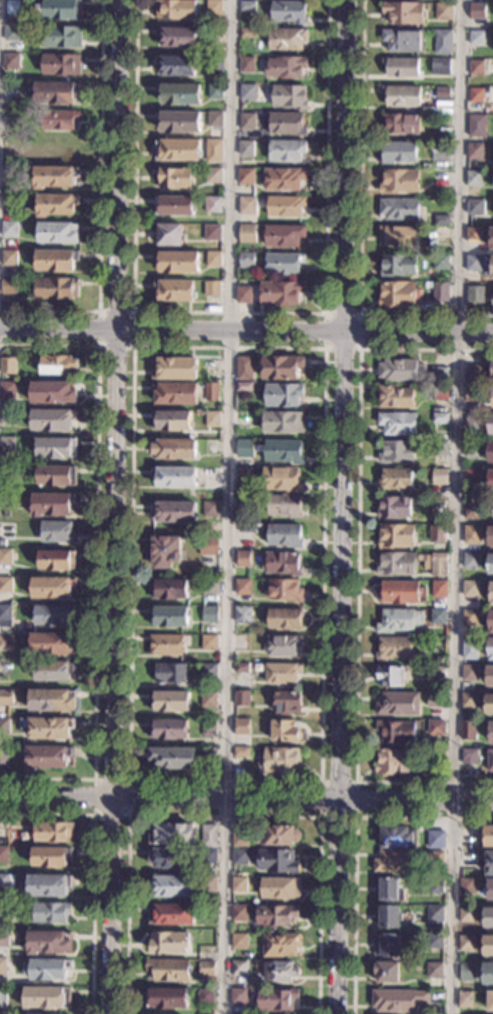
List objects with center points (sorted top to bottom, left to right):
building: (247, 6)
building: (214, 7)
building: (11, 8)
building: (60, 9)
building: (175, 9)
building: (443, 11)
building: (477, 11)
building: (289, 12)
building: (404, 12)
building: (9, 21)
building: (11, 33)
building: (248, 33)
building: (61, 37)
building: (179, 37)
building: (476, 37)
building: (287, 39)
building: (403, 41)
building: (443, 42)
building: (10, 61)
building: (214, 64)
building: (247, 64)
building: (60, 65)
building: (177, 66)
building: (285, 67)
building: (401, 67)
building: (441, 67)
building: (476, 67)
building: (215, 91)
building: (56, 92)
building: (247, 92)
building: (442, 92)
building: (178, 93)
building: (476, 95)
building: (402, 96)
building: (289, 97)
building: (488, 111)
building: (59, 119)
building: (215, 119)
building: (178, 121)
building: (247, 121)
building: (286, 124)
building: (400, 124)
building: (443, 124)
building: (476, 126)
building: (246, 148)
building: (176, 150)
building: (286, 150)
building: (214, 151)
building: (475, 151)
building: (399, 152)
building: (440, 157)
building: (426, 167)
building: (9, 173)
building: (213, 176)
building: (246, 176)
building: (54, 177)
building: (174, 177)
building: (474, 178)
building: (284, 179)
building: (400, 181)
road: (99, 204)
building: (54, 205)
building: (212, 205)
building: (173, 206)
building: (247, 206)
building: (285, 206)
building: (475, 207)
building: (399, 209)
building: (442, 220)
road: (360, 224)
building: (7, 229)
building: (57, 232)
building: (212, 233)
building: (247, 233)
building: (169, 234)
building: (441, 234)
building: (473, 234)
building: (399, 235)
building: (283, 236)
building: (491, 239)
building: (8, 258)
building: (213, 259)
building: (56, 260)
building: (246, 260)
building: (176, 262)
building: (441, 262)
building: (283, 263)
building: (473, 263)
building: (398, 265)
building: (491, 267)
building: (8, 286)
building: (56, 288)
building: (211, 289)
building: (173, 291)
building: (440, 292)
building: (280, 293)
building: (475, 294)
building: (243, 295)
building: (399, 295)
building: (492, 300)
road: (98, 312)
road: (229, 313)
road: (325, 314)
road: (246, 331)
road: (134, 347)
building: (56, 365)
building: (7, 366)
building: (281, 367)
building: (244, 368)
building: (174, 369)
building: (211, 369)
building: (401, 371)
building: (492, 372)
building: (473, 374)
building: (439, 375)
building: (244, 387)
building: (6, 389)
building: (211, 392)
building: (52, 393)
building: (439, 393)
building: (176, 394)
building: (472, 394)
building: (283, 395)
building: (395, 397)
building: (492, 397)
road: (340, 401)
building: (7, 416)
building: (243, 418)
building: (439, 418)
building: (212, 419)
building: (51, 420)
building: (171, 421)
building: (282, 422)
building: (397, 423)
building: (472, 423)
building: (490, 424)
building: (7, 445)
building: (211, 447)
building: (55, 448)
building: (244, 448)
building: (439, 448)
building: (174, 449)
building: (472, 450)
building: (283, 451)
building: (395, 451)
building: (490, 452)
building: (427, 472)
building: (6, 474)
building: (243, 474)
building: (56, 475)
building: (173, 477)
building: (439, 477)
building: (471, 477)
building: (210, 479)
building: (395, 479)
building: (282, 480)
building: (490, 480)
building: (6, 500)
building: (244, 503)
building: (52, 505)
road: (113, 506)
road: (226, 506)
building: (283, 506)
road: (455, 506)
building: (393, 508)
building: (210, 509)
building: (471, 509)
building: (173, 511)
building: (5, 513)
building: (9, 527)
building: (246, 528)
building: (57, 532)
building: (437, 533)
building: (284, 535)
building: (471, 535)
building: (395, 536)
building: (490, 537)
building: (207, 546)
building: (165, 551)
building: (5, 557)
building: (243, 559)
road: (95, 560)
building: (56, 561)
building: (470, 561)
building: (282, 564)
building: (396, 564)
building: (438, 564)
building: (490, 564)
road: (356, 569)
building: (5, 585)
building: (211, 586)
building: (242, 587)
building: (52, 589)
building: (168, 589)
building: (438, 589)
building: (470, 589)
building: (283, 590)
building: (401, 592)
building: (490, 594)
building: (209, 614)
building: (242, 615)
building: (4, 616)
building: (54, 616)
building: (169, 616)
building: (437, 617)
building: (469, 617)
building: (283, 619)
building: (399, 620)
building: (490, 622)
building: (208, 642)
building: (5, 643)
building: (50, 644)
building: (165, 645)
building: (282, 645)
building: (394, 648)
building: (469, 648)
building: (490, 649)
building: (241, 667)
building: (5, 669)
building: (53, 671)
building: (208, 671)
building: (437, 671)
building: (469, 672)
building: (169, 673)
building: (281, 673)
building: (389, 675)
building: (489, 676)
building: (6, 698)
building: (208, 699)
building: (242, 699)
building: (436, 700)
building: (468, 700)
building: (51, 701)
building: (168, 701)
building: (286, 703)
building: (398, 704)
building: (488, 704)
building: (4, 726)
building: (241, 727)
building: (46, 728)
building: (208, 728)
building: (435, 728)
building: (167, 729)
building: (468, 730)
building: (282, 731)
building: (395, 732)
building: (490, 732)
building: (241, 752)
building: (207, 754)
building: (434, 756)
building: (4, 757)
building: (468, 757)
building: (45, 758)
building: (172, 758)
building: (279, 761)
building: (490, 761)
building: (395, 762)
road: (170, 799)
road: (416, 804)
road: (127, 815)
road: (223, 815)
road: (354, 815)
building: (52, 832)
building: (171, 835)
building: (6, 836)
building: (208, 836)
building: (279, 836)
building: (487, 836)
building: (394, 837)
building: (466, 838)
building: (239, 839)
building: (435, 839)
road: (353, 845)
building: (3, 854)
building: (436, 856)
building: (50, 857)
building: (208, 857)
building: (239, 857)
building: (168, 858)
building: (466, 859)
building: (394, 861)
building: (277, 862)
building: (488, 862)
road: (92, 868)
building: (6, 882)
building: (207, 885)
building: (238, 885)
building: (48, 886)
building: (435, 886)
building: (466, 886)
building: (171, 887)
building: (279, 889)
building: (490, 889)
building: (388, 890)
road: (338, 909)
building: (6, 910)
building: (208, 911)
building: (49, 912)
building: (238, 913)
building: (434, 914)
building: (466, 914)
building: (170, 915)
building: (275, 916)
building: (389, 917)
building: (487, 918)
building: (12, 935)
building: (3, 939)
building: (238, 941)
building: (434, 941)
building: (47, 942)
building: (167, 943)
building: (466, 944)
building: (279, 945)
building: (386, 945)
building: (488, 946)
building: (2, 966)
building: (238, 968)
building: (46, 969)
building: (206, 969)
building: (168, 970)
building: (279, 971)
building: (434, 971)
building: (386, 972)
building: (467, 972)
building: (487, 973)
building: (2, 997)
building: (238, 997)
building: (45, 998)
building: (166, 998)
building: (205, 998)
building: (276, 1000)
building: (397, 1000)
building: (464, 1000)
building: (489, 1001)

